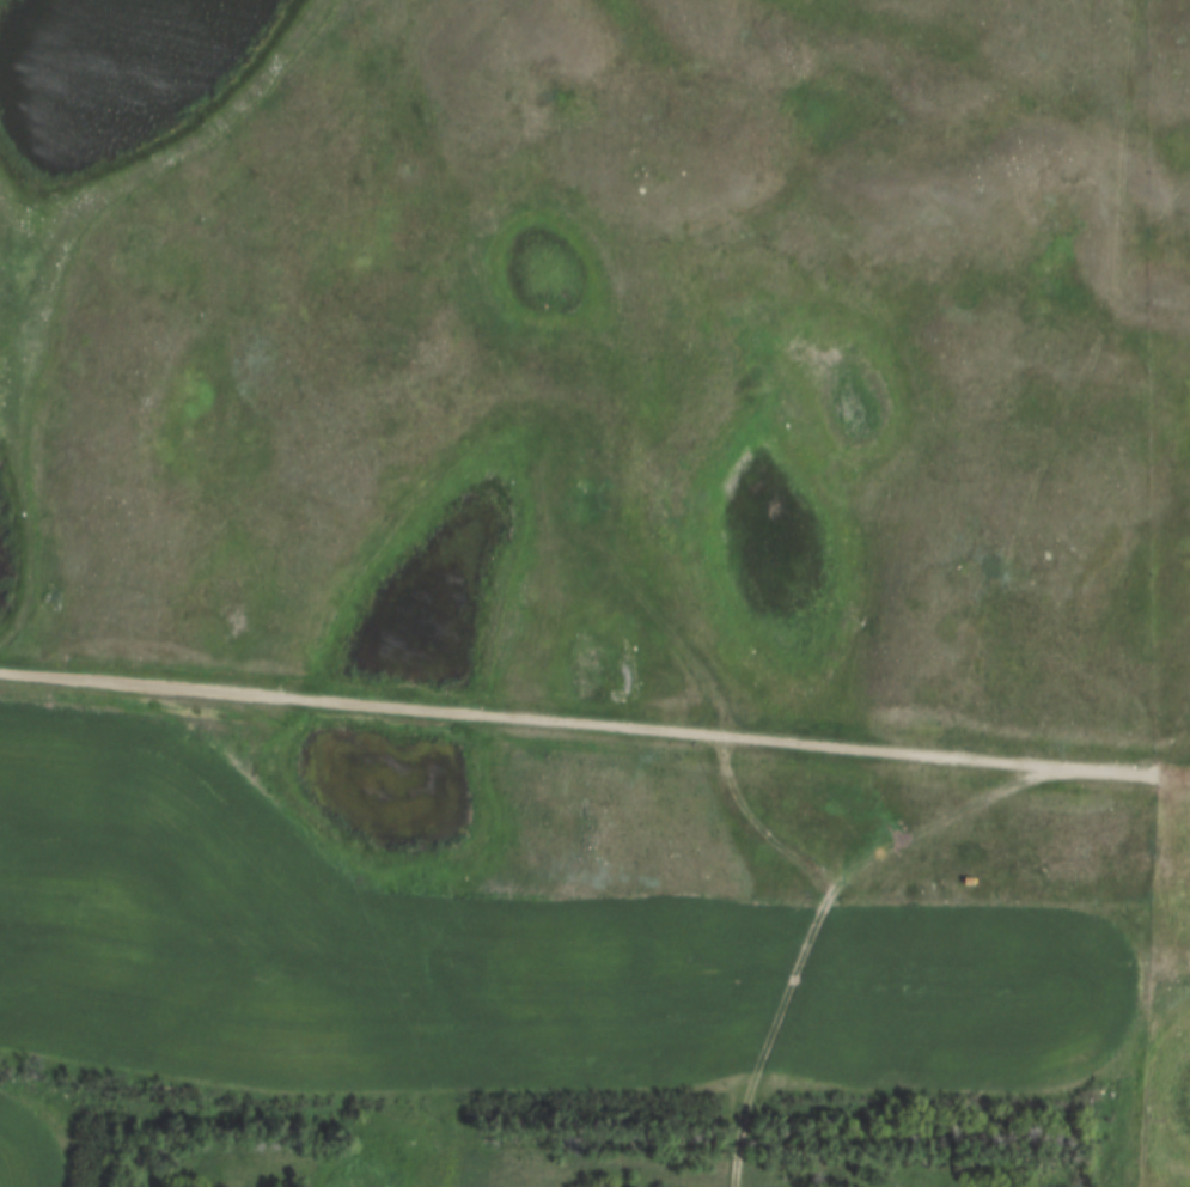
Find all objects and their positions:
road: (594, 720)
road: (820, 917)

